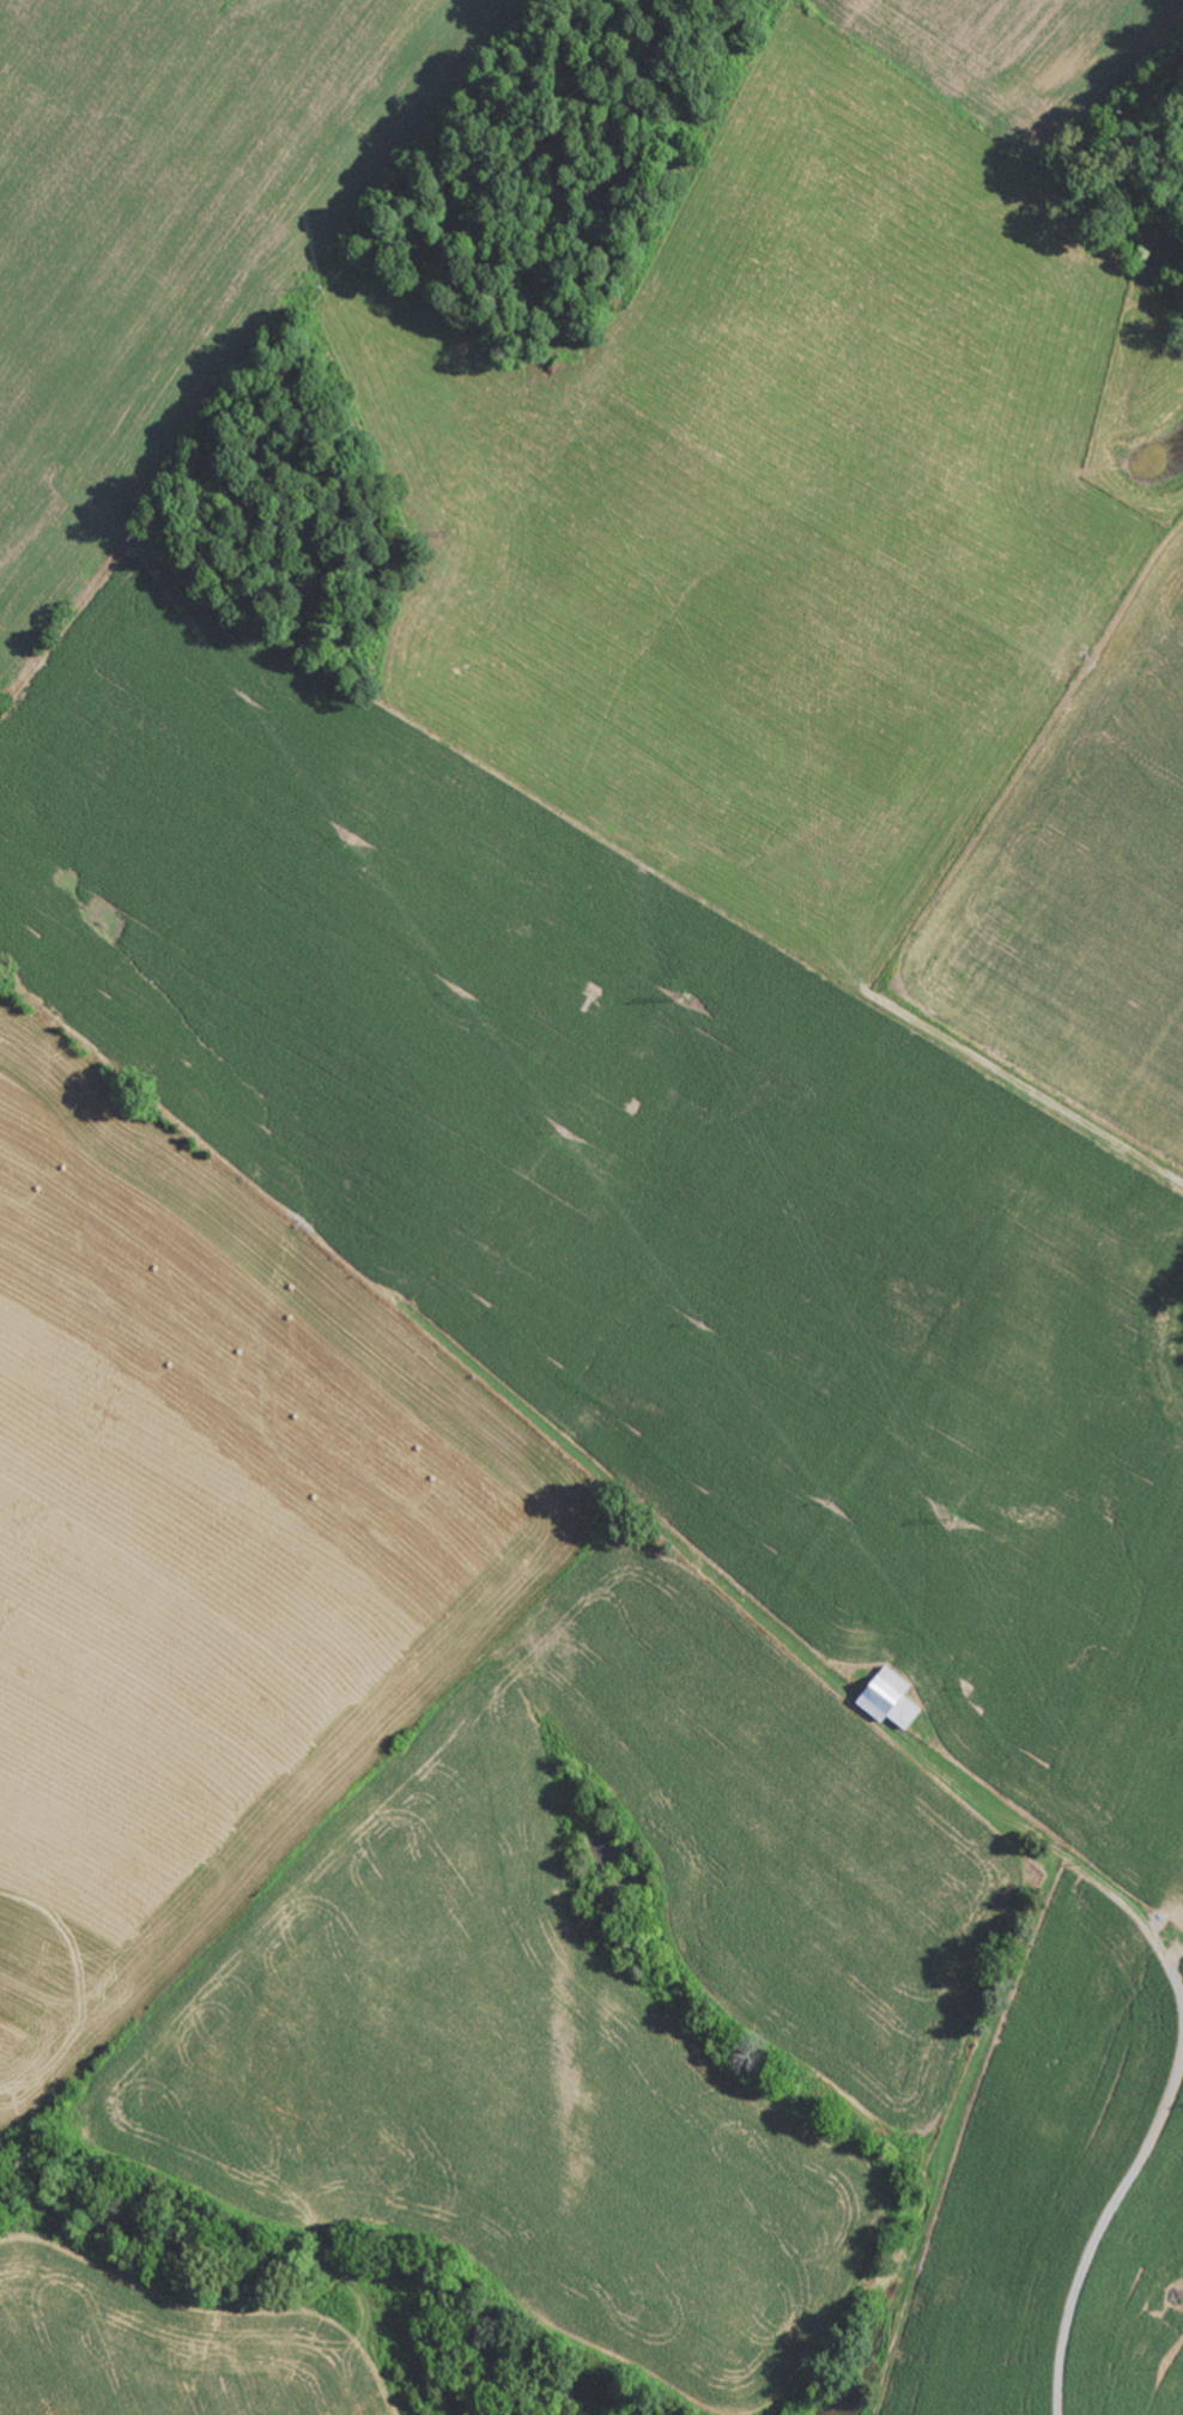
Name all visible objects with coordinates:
building: (887, 1697)

